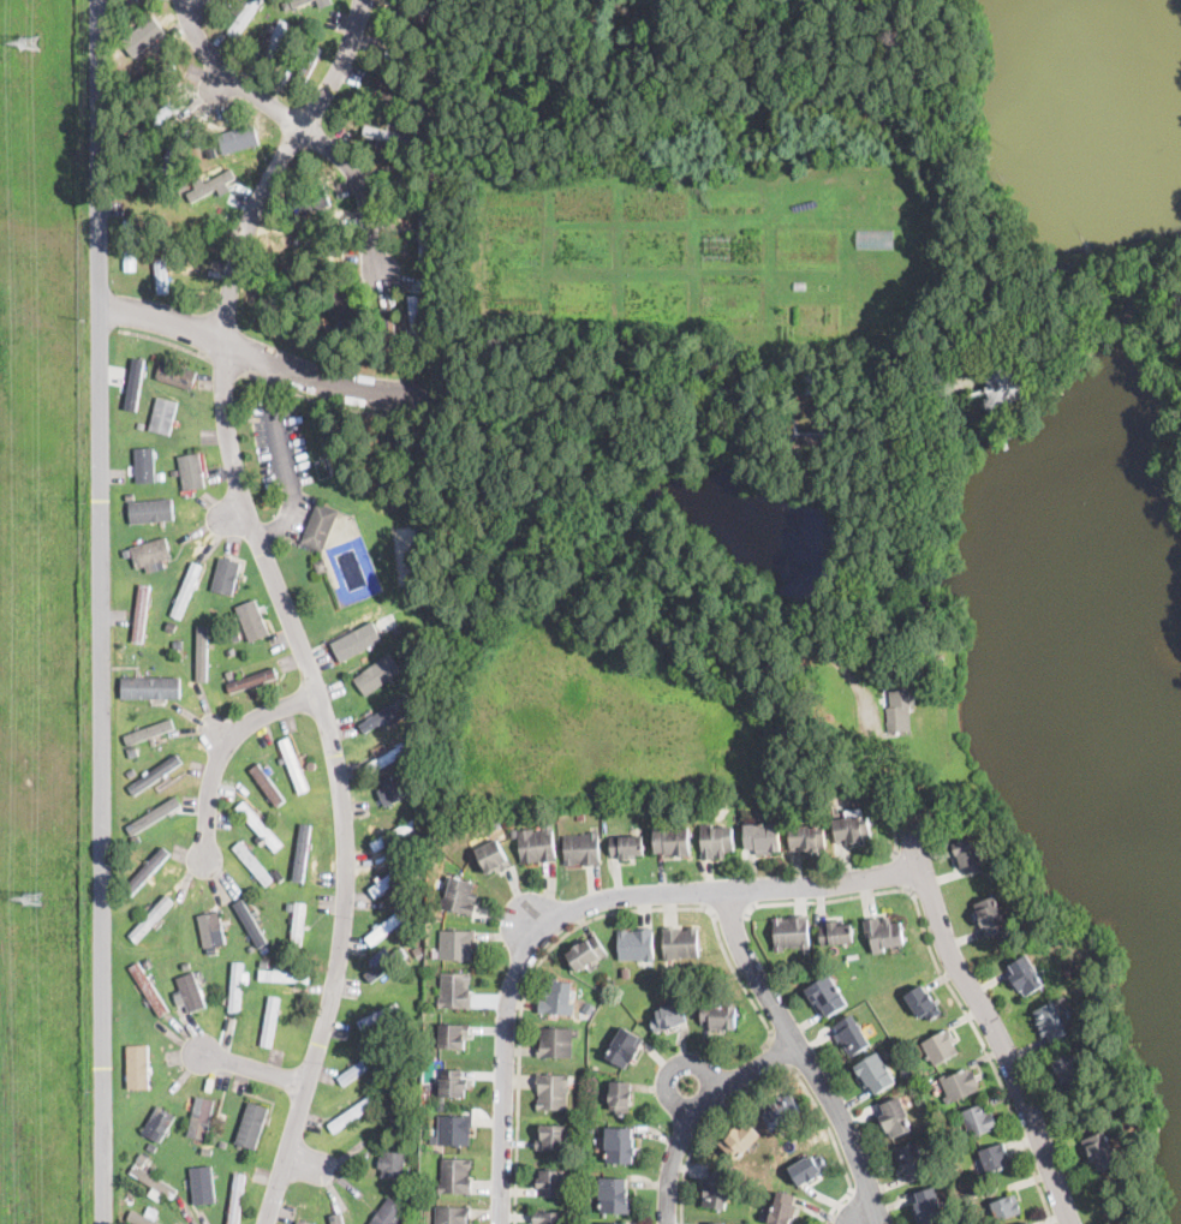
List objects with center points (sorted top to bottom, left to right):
building: (133, 4)
building: (412, 11)
building: (244, 17)
building: (270, 26)
building: (142, 35)
building: (273, 43)
power tower: (28, 44)
building: (410, 59)
building: (306, 65)
building: (154, 72)
building: (400, 96)
road: (303, 123)
building: (437, 124)
building: (153, 125)
building: (388, 135)
building: (238, 137)
building: (174, 149)
building: (211, 183)
building: (411, 183)
building: (309, 201)
building: (875, 237)
building: (424, 239)
building: (129, 244)
building: (316, 249)
building: (160, 264)
building: (799, 283)
building: (340, 310)
building: (420, 322)
building: (357, 328)
building: (389, 336)
building: (404, 338)
road: (263, 356)
building: (154, 357)
building: (175, 375)
building: (133, 382)
building: (1000, 387)
building: (811, 388)
park: (809, 399)
building: (160, 413)
building: (163, 413)
building: (141, 424)
building: (806, 437)
building: (172, 453)
road: (285, 458)
building: (144, 465)
building: (191, 466)
building: (160, 476)
building: (130, 495)
building: (150, 509)
building: (318, 526)
building: (151, 553)
building: (321, 566)
building: (226, 577)
building: (186, 587)
road: (280, 601)
road: (100, 611)
building: (141, 613)
landfill: (37, 616)
building: (252, 620)
building: (214, 623)
building: (171, 625)
building: (233, 635)
building: (359, 639)
building: (202, 653)
building: (938, 658)
building: (869, 659)
building: (231, 673)
building: (406, 674)
building: (377, 676)
building: (252, 677)
building: (150, 687)
building: (899, 707)
building: (387, 715)
building: (147, 733)
road: (220, 746)
building: (132, 752)
building: (389, 756)
building: (282, 760)
building: (293, 764)
building: (311, 764)
building: (131, 771)
building: (155, 772)
building: (414, 783)
building: (268, 786)
building: (394, 788)
building: (153, 814)
building: (580, 816)
building: (419, 817)
building: (545, 823)
building: (260, 825)
building: (851, 828)
building: (513, 831)
building: (286, 835)
building: (395, 835)
building: (763, 836)
building: (807, 837)
building: (673, 841)
building: (716, 841)
building: (536, 846)
building: (627, 846)
building: (581, 849)
building: (302, 850)
building: (967, 855)
building: (494, 858)
building: (252, 862)
building: (130, 866)
building: (424, 870)
building: (147, 871)
building: (278, 874)
building: (393, 877)
power tower: (31, 897)
building: (460, 897)
building: (411, 900)
road: (574, 903)
road: (732, 912)
building: (990, 915)
road: (530, 916)
building: (151, 918)
building: (250, 921)
building: (131, 924)
building: (388, 924)
building: (298, 925)
building: (211, 927)
building: (789, 932)
building: (836, 933)
building: (882, 933)
road: (565, 935)
building: (680, 943)
building: (636, 944)
building: (457, 945)
building: (586, 954)
building: (264, 962)
building: (386, 963)
building: (284, 973)
building: (1025, 974)
building: (612, 979)
road: (946, 979)
building: (235, 986)
building: (149, 989)
building: (191, 989)
building: (454, 990)
building: (825, 995)
building: (559, 997)
building: (262, 998)
building: (923, 1003)
building: (718, 1014)
building: (378, 1015)
building: (668, 1017)
road: (984, 1017)
building: (1054, 1019)
building: (400, 1020)
building: (270, 1021)
building: (849, 1034)
building: (453, 1035)
building: (390, 1038)
building: (555, 1043)
building: (624, 1046)
building: (940, 1046)
road: (783, 1047)
road: (801, 1055)
building: (362, 1064)
building: (138, 1067)
road: (252, 1068)
building: (906, 1070)
building: (1067, 1070)
building: (873, 1073)
building: (919, 1075)
building: (452, 1083)
building: (377, 1085)
building: (959, 1085)
building: (402, 1091)
building: (553, 1091)
building: (620, 1097)
building: (440, 1106)
road: (696, 1109)
building: (780, 1110)
building: (352, 1112)
building: (201, 1116)
building: (893, 1117)
building: (977, 1121)
building: (159, 1122)
building: (252, 1123)
road: (708, 1124)
building: (455, 1129)
building: (553, 1139)
building: (741, 1139)
building: (223, 1142)
road: (835, 1144)
building: (621, 1145)
building: (151, 1146)
building: (207, 1150)
building: (1098, 1150)
building: (142, 1156)
building: (995, 1157)
building: (394, 1160)
building: (908, 1162)
building: (807, 1169)
building: (455, 1176)
building: (551, 1182)
building: (154, 1183)
building: (203, 1183)
building: (716, 1190)
building: (973, 1192)
building: (615, 1195)
building: (130, 1198)
building: (237, 1199)
building: (927, 1206)
building: (1004, 1207)
building: (782, 1208)
building: (389, 1213)
building: (453, 1214)
building: (144, 1217)
building: (336, 1217)
building: (551, 1218)
building: (305, 1219)
building: (408, 1223)
building: (614, 1223)
building: (716, 1223)
building: (1027, 1223)

